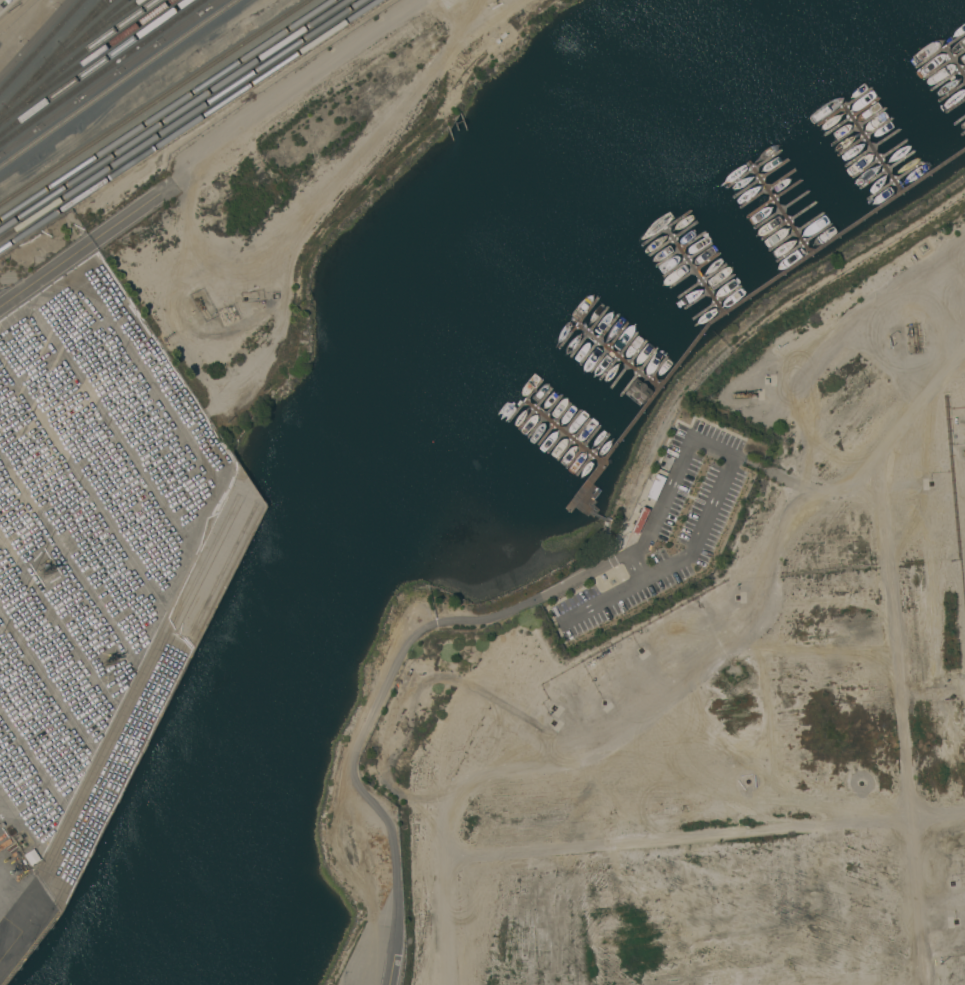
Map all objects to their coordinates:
railway: (106, 1)
railway: (83, 21)
railway: (93, 32)
railway: (40, 44)
railway: (62, 52)
railway: (50, 55)
railway: (74, 56)
railway: (84, 60)
railway: (92, 66)
railway: (100, 71)
railway: (117, 82)
railway: (153, 101)
railway: (165, 109)
railway: (176, 117)
railway: (182, 120)
railway: (190, 125)
road: (124, 217)
road: (45, 273)
building: (638, 391)
road: (677, 471)
building: (655, 487)
building: (639, 520)
parking lot: (83, 547)
road: (369, 799)
building: (30, 857)
road: (3, 892)

